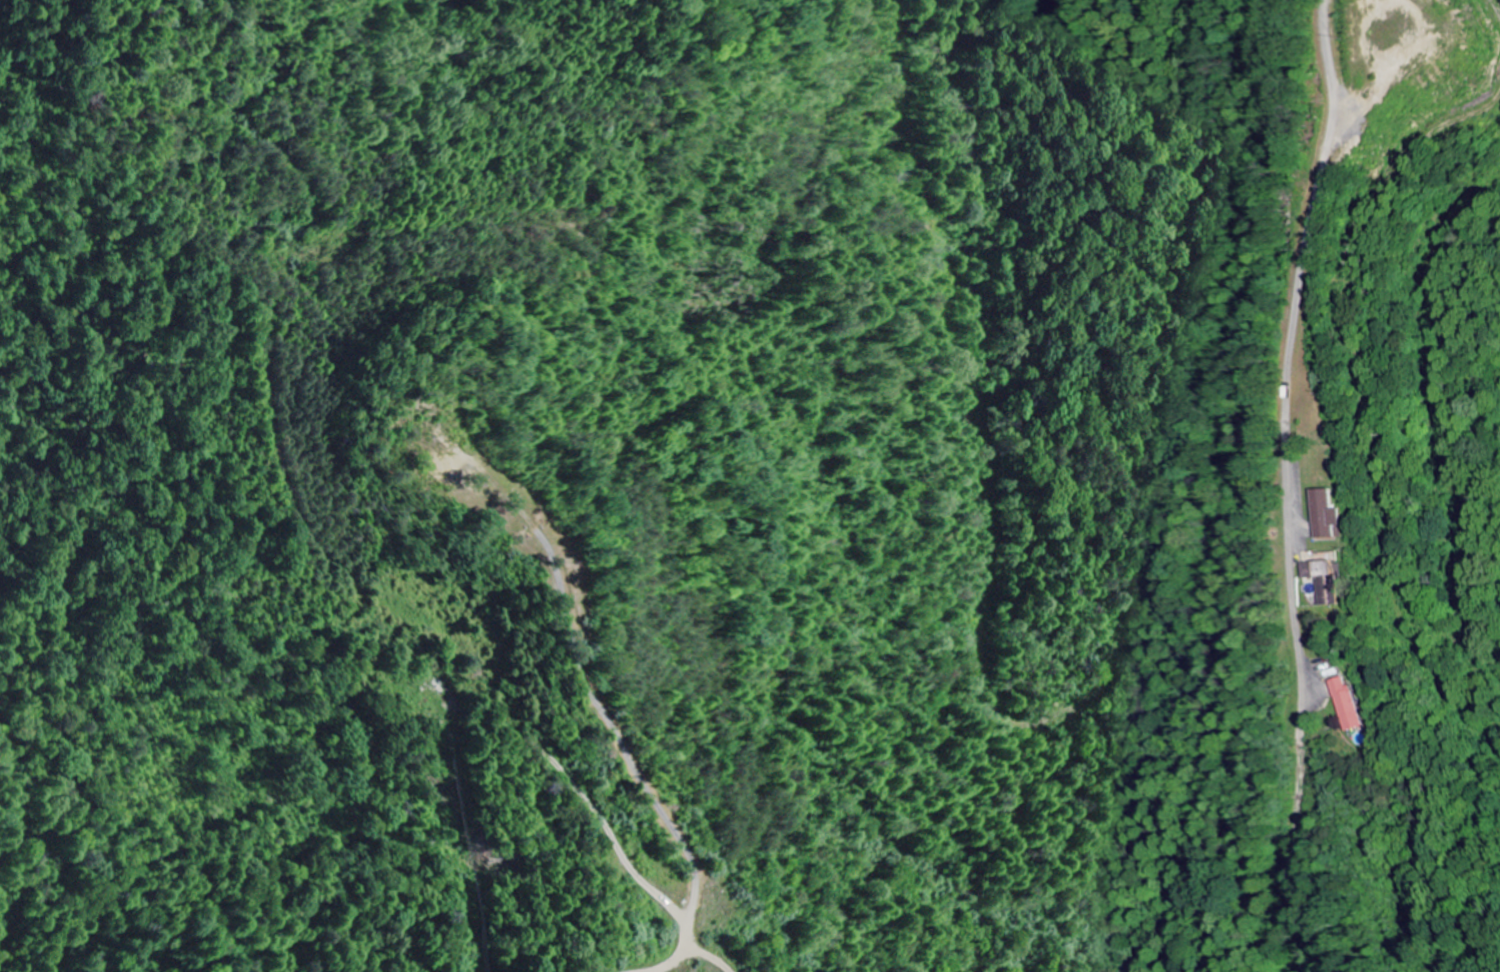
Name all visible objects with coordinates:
road: (1286, 374)
building: (1328, 514)
building: (1350, 705)
road: (605, 826)

